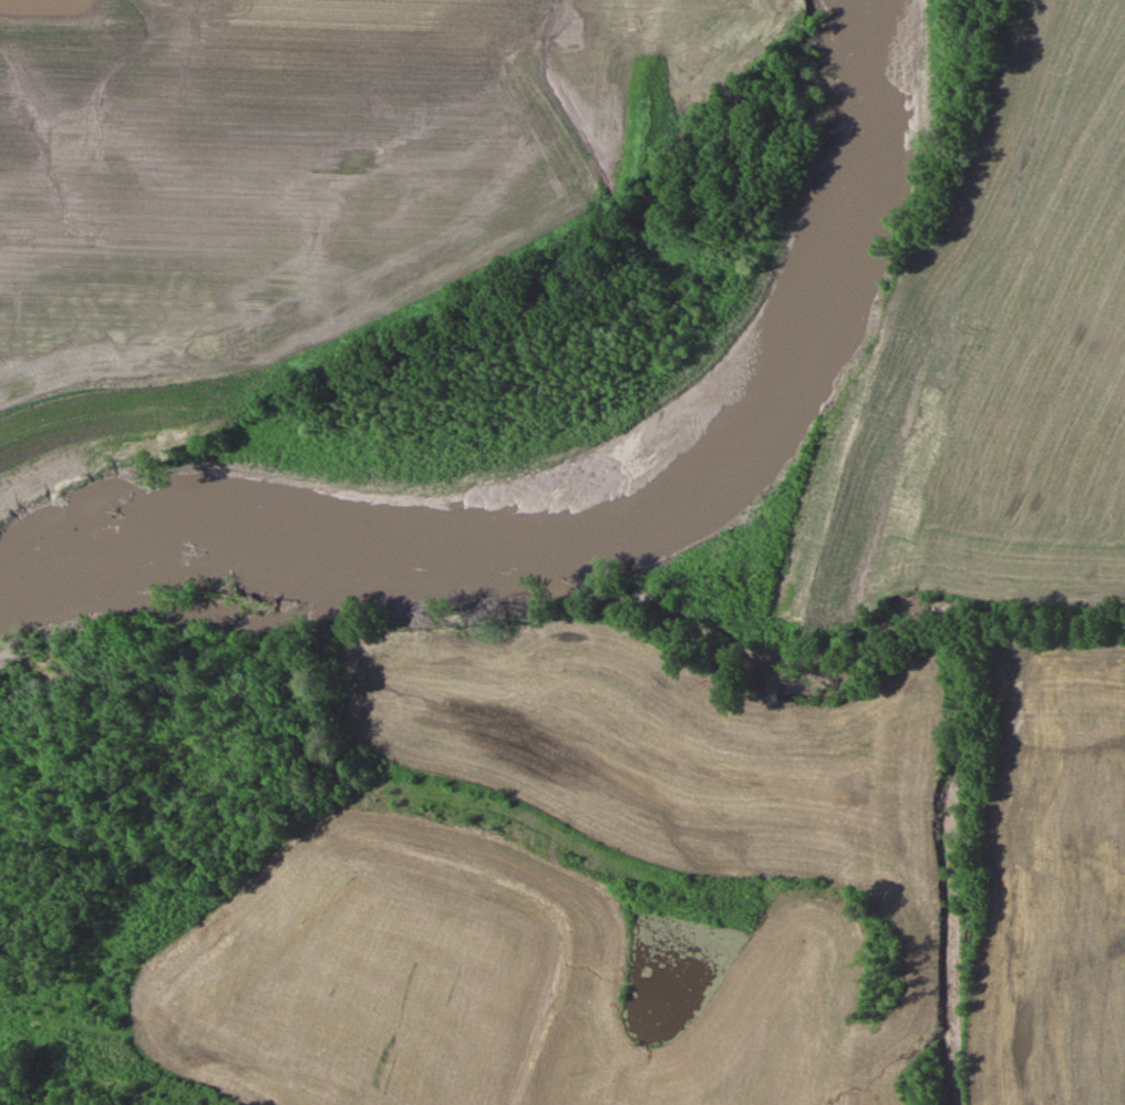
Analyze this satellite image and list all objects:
river: (558, 409)
river: (706, 683)
river: (1040, 1008)

